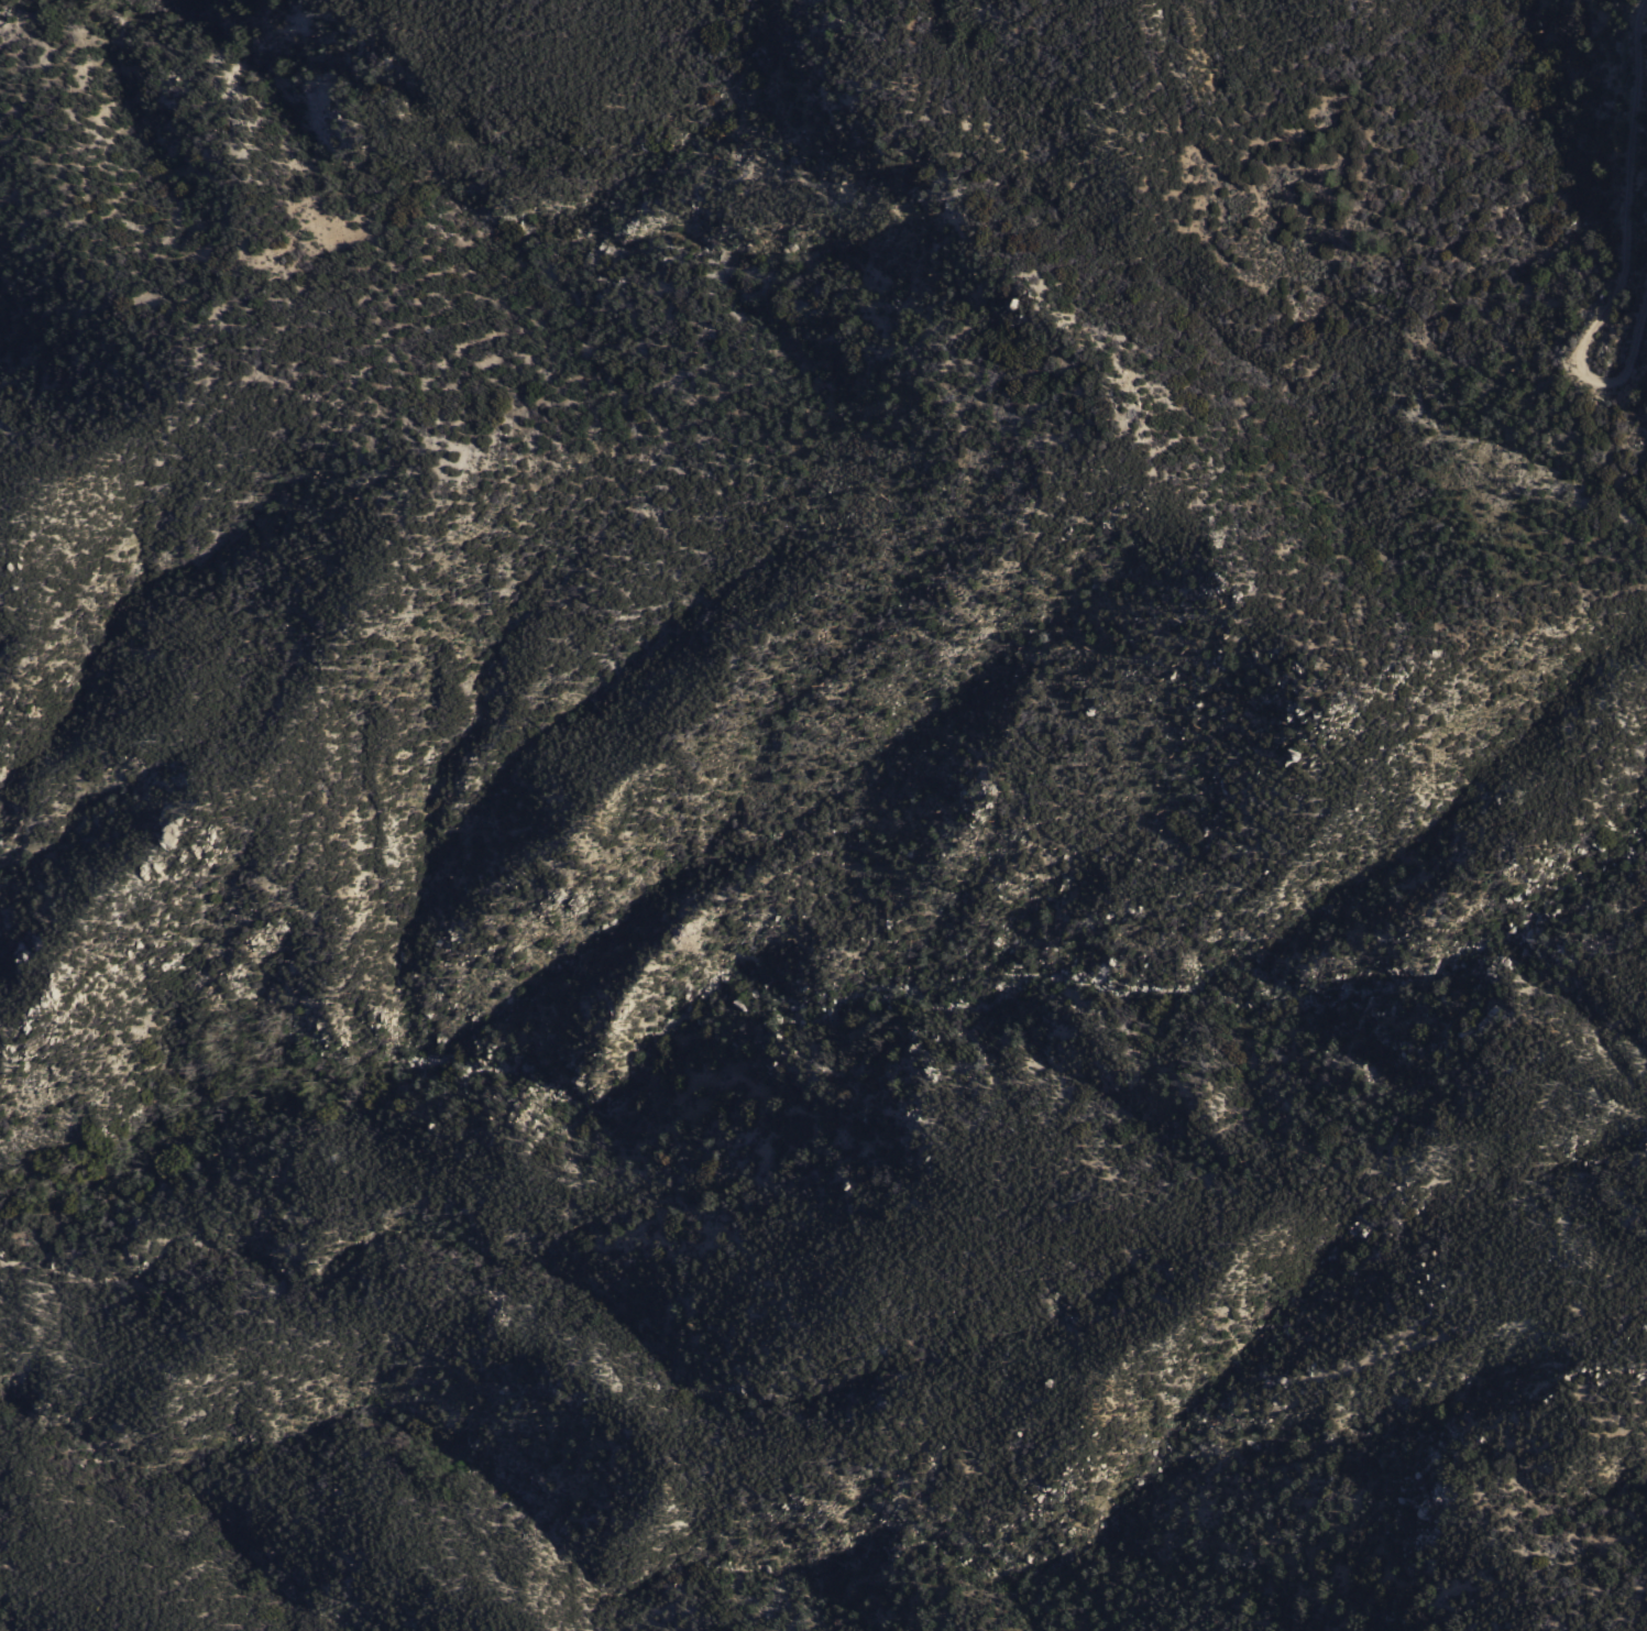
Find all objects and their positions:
road: (1622, 275)

